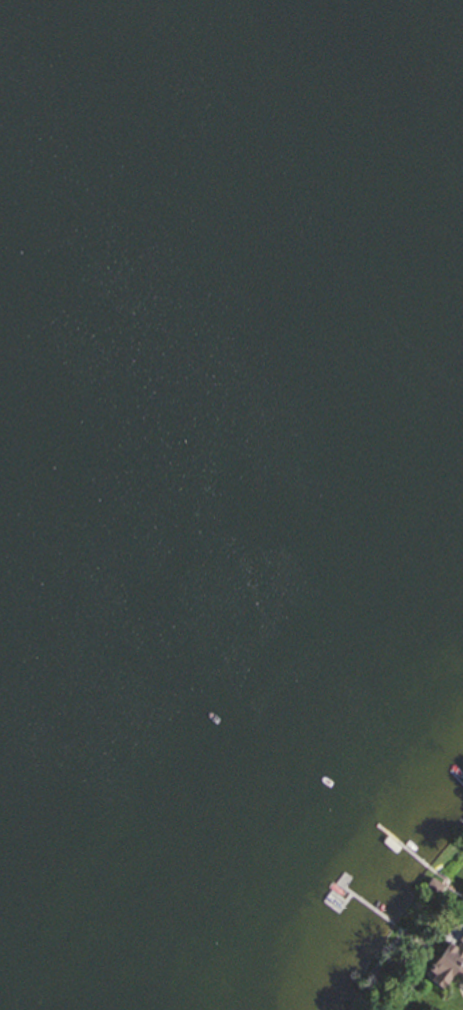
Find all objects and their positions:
building: (432, 884)
building: (447, 960)

